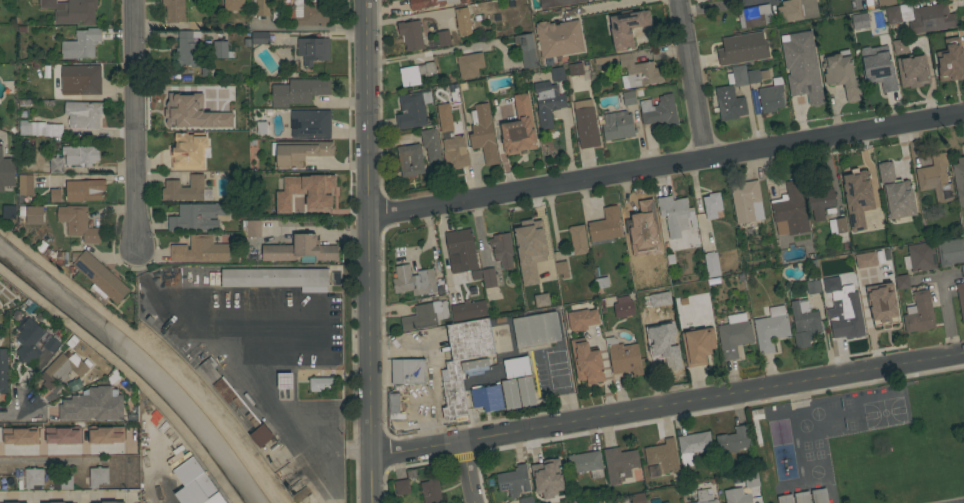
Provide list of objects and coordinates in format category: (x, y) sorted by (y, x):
building: (592, 0)
building: (434, 2)
building: (886, 2)
building: (557, 3)
building: (234, 5)
road: (717, 6)
road: (610, 7)
building: (259, 8)
building: (174, 10)
building: (797, 10)
building: (72, 11)
building: (315, 13)
building: (754, 16)
building: (921, 17)
building: (862, 19)
building: (463, 22)
building: (627, 27)
road: (312, 30)
building: (411, 35)
building: (443, 37)
building: (260, 38)
building: (559, 38)
building: (81, 45)
building: (742, 48)
building: (223, 49)
building: (313, 49)
building: (900, 49)
building: (186, 50)
building: (526, 50)
road: (441, 51)
building: (950, 62)
building: (469, 64)
building: (802, 67)
building: (877, 67)
building: (575, 69)
building: (635, 70)
building: (416, 73)
building: (557, 74)
building: (842, 74)
building: (920, 74)
building: (757, 75)
building: (737, 76)
road: (694, 79)
building: (80, 81)
building: (299, 91)
building: (771, 96)
building: (629, 98)
building: (755, 101)
building: (547, 102)
building: (729, 103)
building: (412, 109)
building: (659, 111)
building: (83, 113)
building: (173, 117)
building: (442, 119)
building: (215, 123)
building: (310, 123)
building: (586, 125)
building: (617, 125)
road: (137, 127)
building: (518, 128)
building: (40, 129)
building: (483, 133)
building: (431, 144)
building: (455, 150)
building: (187, 152)
building: (299, 152)
building: (80, 155)
building: (411, 160)
building: (56, 165)
road: (665, 166)
building: (6, 172)
building: (278, 177)
building: (959, 177)
building: (935, 178)
building: (26, 185)
building: (184, 189)
building: (84, 190)
building: (307, 193)
building: (896, 193)
building: (55, 195)
building: (857, 197)
building: (746, 201)
building: (820, 203)
building: (711, 205)
building: (791, 210)
building: (35, 215)
building: (675, 215)
building: (199, 217)
building: (78, 223)
building: (605, 227)
building: (253, 228)
building: (838, 228)
building: (646, 233)
building: (533, 237)
building: (578, 240)
building: (300, 249)
building: (502, 249)
building: (200, 250)
building: (461, 250)
road: (367, 251)
building: (950, 252)
building: (919, 257)
building: (61, 258)
building: (863, 260)
building: (712, 265)
building: (545, 269)
building: (562, 269)
building: (962, 269)
building: (99, 276)
building: (865, 276)
building: (275, 277)
building: (488, 278)
building: (414, 280)
building: (902, 281)
building: (642, 282)
building: (601, 284)
building: (830, 284)
building: (813, 285)
building: (961, 297)
building: (538, 300)
building: (884, 303)
building: (846, 306)
building: (623, 307)
building: (0, 308)
building: (647, 309)
building: (468, 310)
building: (919, 313)
building: (425, 315)
road: (946, 318)
building: (581, 319)
building: (805, 325)
building: (536, 329)
building: (771, 329)
building: (0, 332)
building: (734, 335)
building: (29, 341)
building: (664, 341)
building: (52, 345)
building: (698, 346)
building: (624, 357)
building: (586, 361)
road: (252, 362)
building: (475, 363)
road: (432, 367)
building: (513, 368)
building: (64, 369)
building: (210, 369)
building: (4, 371)
building: (408, 371)
building: (284, 381)
building: (322, 383)
building: (453, 388)
building: (526, 391)
building: (510, 394)
building: (236, 403)
building: (488, 403)
building: (92, 405)
road: (668, 405)
building: (395, 407)
road: (13, 415)
building: (834, 430)
building: (64, 436)
building: (107, 436)
building: (261, 436)
building: (21, 437)
building: (44, 437)
building: (733, 440)
building: (693, 446)
building: (4, 450)
building: (21, 450)
building: (663, 456)
road: (46, 463)
building: (586, 464)
building: (620, 464)
building: (549, 470)
building: (651, 471)
road: (469, 472)
building: (97, 477)
building: (33, 478)
building: (751, 480)
building: (513, 481)
building: (66, 483)
building: (196, 484)
building: (402, 487)
building: (431, 491)
road: (60, 496)
building: (705, 496)
building: (737, 496)
building: (815, 496)
building: (638, 498)
building: (792, 498)
building: (526, 500)
building: (45, 502)
building: (56, 502)
building: (111, 502)
building: (665, 502)

